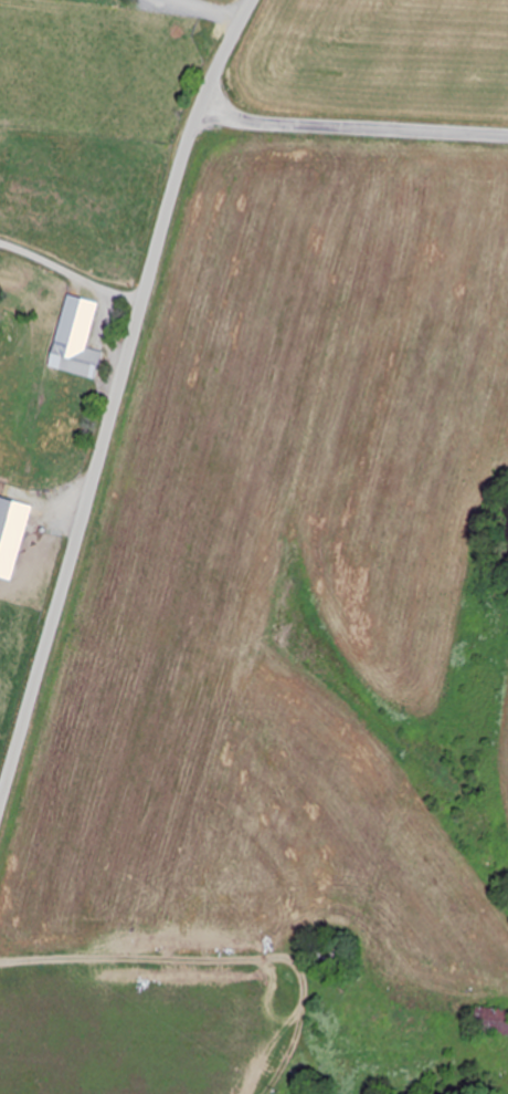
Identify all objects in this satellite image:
road: (351, 132)
building: (78, 357)
road: (115, 398)
road: (144, 1007)
building: (493, 1023)

